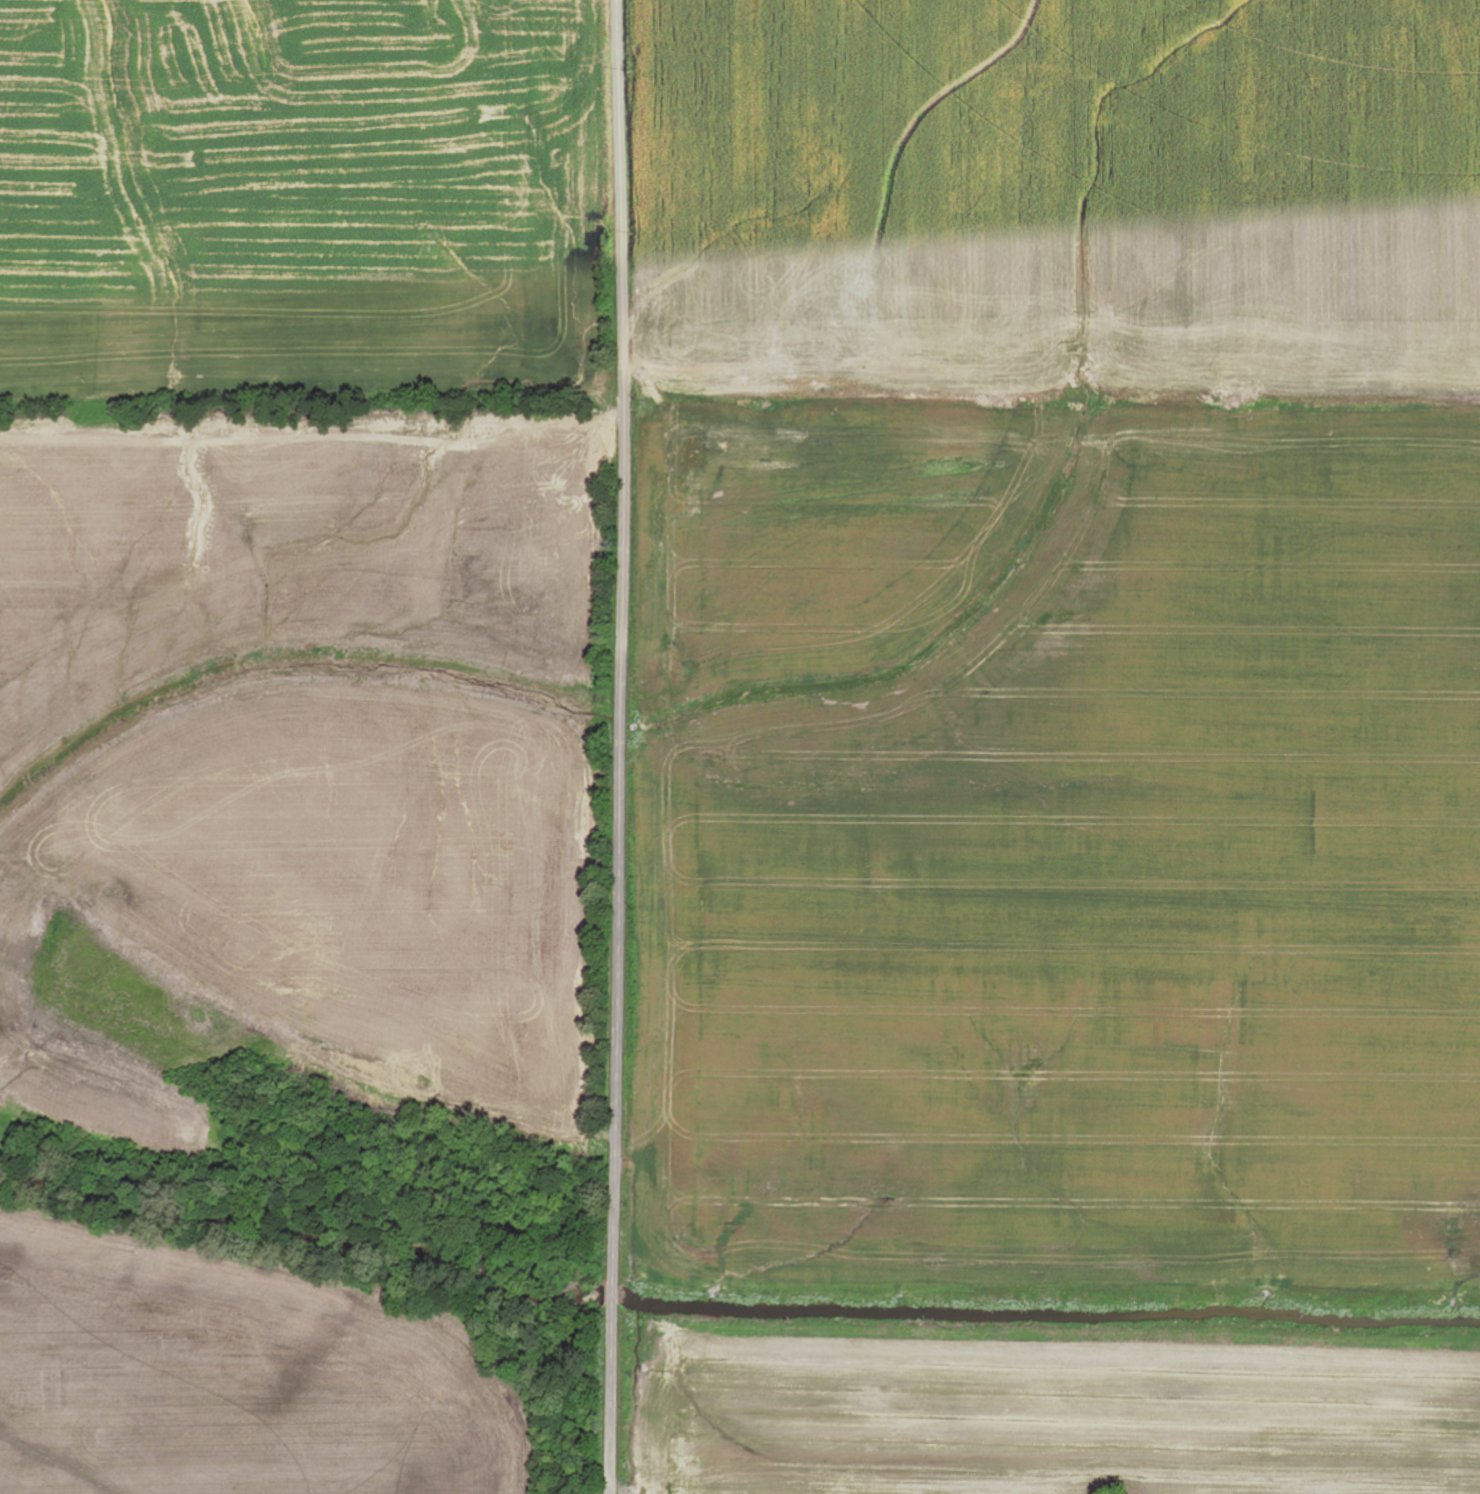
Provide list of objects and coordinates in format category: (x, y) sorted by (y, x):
road: (623, 746)

